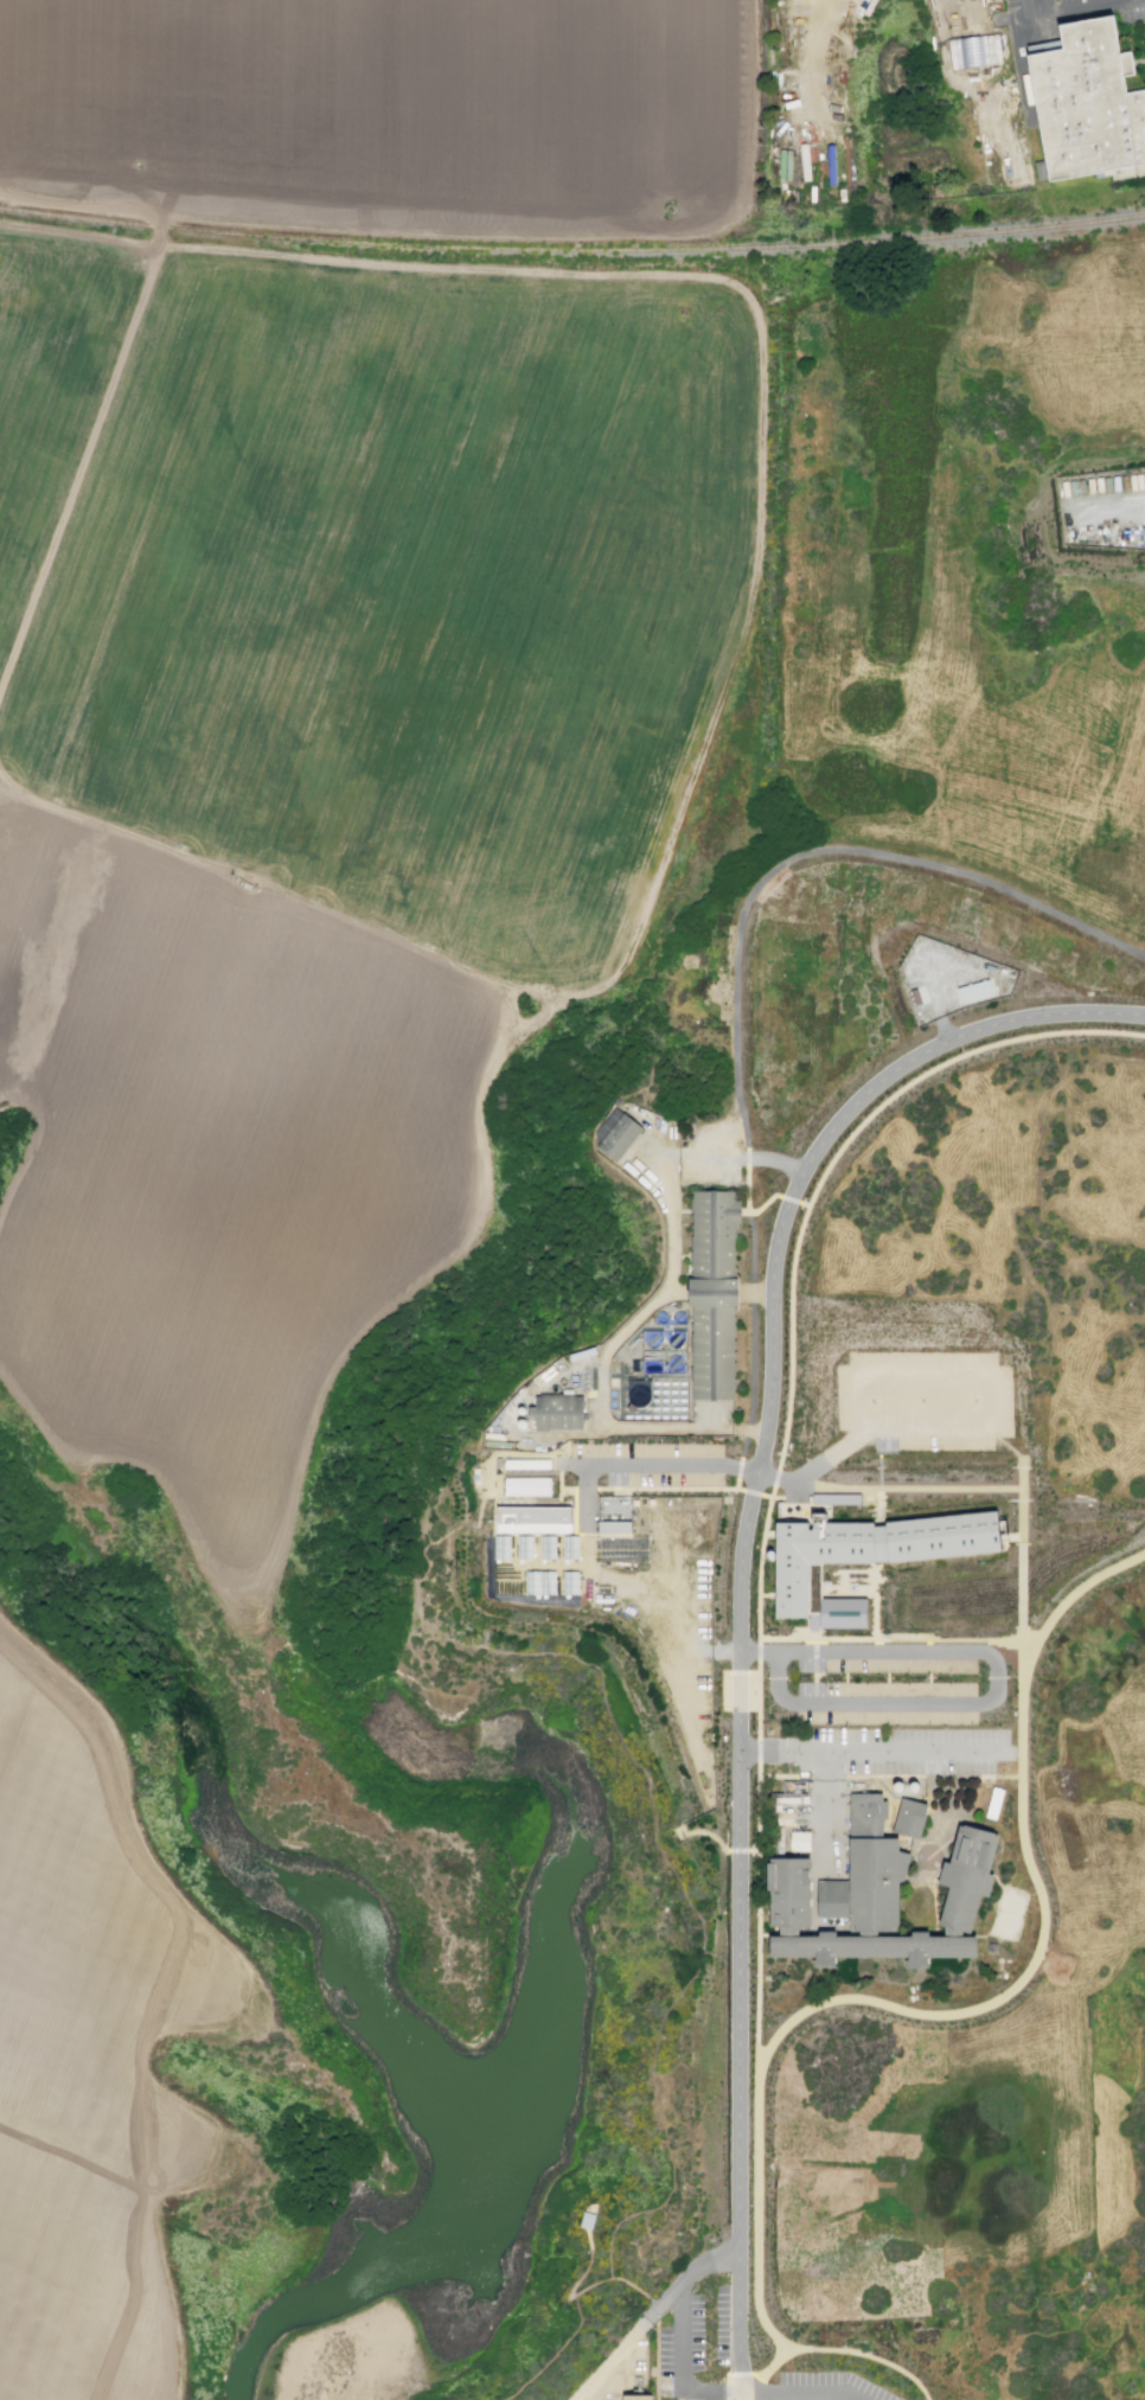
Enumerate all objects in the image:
parking lot: (1043, 6)
road: (1072, 12)
crop: (394, 98)
building: (1087, 109)
building: (785, 164)
road: (478, 231)
railway: (959, 232)
railway: (385, 241)
road: (83, 453)
road: (750, 588)
crop: (335, 801)
road: (817, 850)
building: (990, 968)
building: (1002, 971)
building: (1010, 973)
building: (973, 991)
building: (917, 994)
road: (938, 1004)
road: (914, 1082)
road: (478, 1124)
building: (616, 1134)
road: (775, 1158)
road: (747, 1184)
building: (714, 1250)
road: (773, 1259)
road: (640, 1318)
road: (751, 1350)
building: (712, 1355)
building: (638, 1393)
parking lot: (925, 1399)
building: (559, 1414)
road: (967, 1422)
road: (1019, 1454)
building: (530, 1465)
parking lot: (644, 1465)
road: (671, 1465)
road: (802, 1485)
building: (530, 1486)
road: (1006, 1486)
road: (665, 1487)
road: (766, 1496)
road: (586, 1500)
building: (533, 1519)
building: (613, 1527)
building: (501, 1547)
building: (525, 1547)
building: (546, 1547)
building: (570, 1547)
road: (759, 1550)
building: (863, 1561)
building: (539, 1582)
building: (570, 1582)
road: (676, 1625)
road: (813, 1670)
road: (977, 1703)
road: (870, 1751)
parking lot: (907, 1752)
road: (917, 1777)
road: (958, 1777)
road: (926, 1779)
flagpole: (987, 1786)
building: (898, 1790)
storage tank: (898, 1790)
building: (914, 1790)
storage tank: (914, 1790)
building: (806, 1799)
building: (786, 1800)
building: (993, 1804)
building: (805, 1806)
building: (778, 1809)
road: (825, 1812)
building: (783, 1819)
building: (910, 1819)
road: (653, 1835)
building: (779, 1842)
building: (800, 1842)
road: (757, 1863)
building: (866, 1875)
building: (967, 1882)
road: (814, 1892)
building: (789, 1897)
road: (935, 1911)
park: (1006, 1913)
road: (766, 1931)
road: (837, 1938)
building: (991, 1948)
building: (874, 1951)
road: (1056, 1954)
road: (172, 2005)
road: (955, 2012)
crop: (92, 2042)
road: (737, 2061)
parking lot: (723, 2156)
road: (73, 2163)
building: (587, 2219)
road: (584, 2289)
road: (652, 2312)
parking lot: (696, 2331)
road: (862, 2351)
road: (554, 2353)
road: (679, 2364)
road: (727, 2380)
road: (741, 2383)
parking lot: (827, 2386)
road: (799, 2395)
building: (637, 2396)
road: (742, 2396)
road: (795, 2398)
road: (845, 2398)

